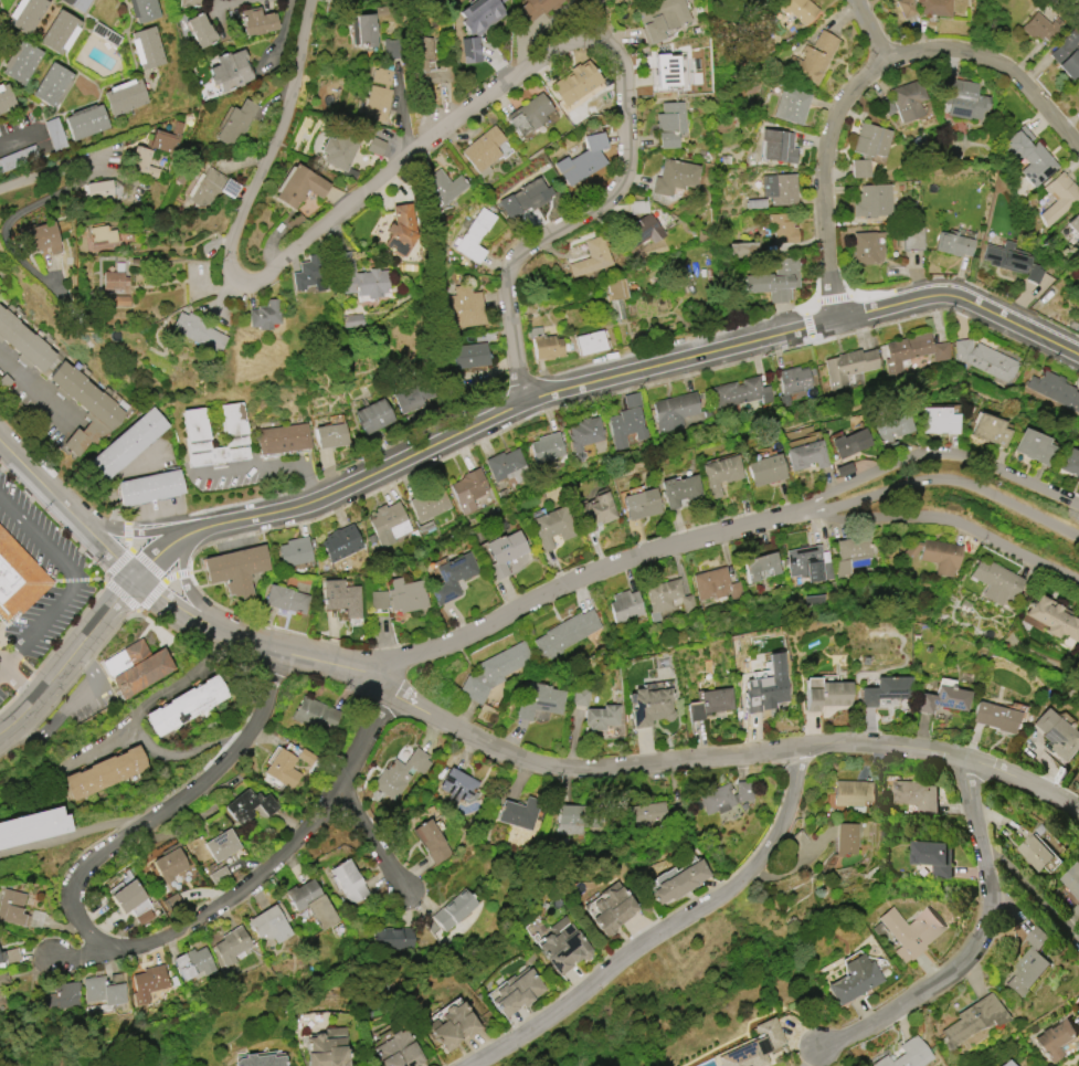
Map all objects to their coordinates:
building: (187, 2)
road: (230, 2)
building: (80, 4)
building: (535, 7)
building: (934, 7)
building: (907, 8)
building: (798, 9)
building: (144, 10)
building: (25, 14)
building: (660, 18)
building: (256, 21)
road: (601, 21)
building: (477, 25)
building: (1043, 28)
building: (199, 30)
building: (363, 30)
building: (60, 32)
building: (106, 34)
building: (147, 48)
building: (1067, 54)
building: (812, 59)
building: (21, 62)
building: (426, 64)
road: (999, 66)
building: (669, 70)
building: (229, 71)
building: (382, 75)
building: (574, 82)
building: (1078, 83)
building: (51, 84)
building: (125, 96)
building: (960, 97)
building: (6, 98)
building: (908, 99)
building: (377, 103)
building: (791, 105)
road: (464, 110)
building: (529, 114)
building: (86, 122)
building: (234, 123)
building: (669, 124)
building: (55, 134)
building: (168, 138)
road: (17, 141)
road: (825, 145)
building: (374, 146)
building: (777, 146)
building: (867, 147)
building: (483, 150)
building: (339, 152)
building: (1028, 156)
building: (18, 158)
building: (582, 159)
building: (140, 161)
road: (53, 169)
building: (674, 177)
building: (298, 186)
building: (444, 187)
building: (212, 188)
building: (780, 189)
building: (101, 190)
building: (1058, 197)
building: (526, 198)
building: (865, 201)
building: (755, 203)
road: (15, 213)
building: (1073, 223)
building: (782, 229)
building: (400, 230)
building: (639, 231)
building: (473, 235)
building: (911, 236)
building: (103, 238)
building: (41, 239)
building: (952, 244)
building: (866, 247)
building: (742, 250)
building: (591, 257)
building: (1012, 260)
building: (309, 274)
building: (359, 277)
building: (114, 281)
building: (775, 281)
building: (615, 289)
building: (462, 307)
building: (264, 315)
building: (197, 331)
building: (591, 341)
building: (23, 342)
building: (546, 345)
building: (911, 351)
building: (470, 356)
building: (984, 359)
building: (54, 363)
building: (849, 367)
road: (647, 369)
building: (793, 382)
building: (1055, 390)
road: (35, 391)
building: (741, 392)
building: (413, 397)
building: (84, 407)
building: (675, 411)
building: (372, 416)
building: (939, 421)
building: (627, 422)
building: (233, 429)
building: (991, 430)
building: (892, 431)
building: (584, 435)
building: (330, 436)
building: (283, 439)
building: (850, 443)
building: (126, 444)
building: (1034, 446)
building: (547, 447)
road: (935, 454)
building: (806, 455)
building: (1070, 462)
road: (272, 464)
building: (507, 466)
building: (765, 469)
building: (844, 469)
building: (720, 473)
road: (117, 475)
road: (940, 479)
building: (148, 487)
building: (468, 489)
building: (679, 489)
road: (59, 498)
building: (429, 504)
building: (641, 504)
building: (594, 511)
road: (943, 519)
building: (389, 523)
building: (552, 526)
road: (204, 530)
road: (152, 531)
building: (341, 542)
building: (295, 551)
building: (504, 551)
building: (937, 555)
building: (851, 556)
road: (161, 558)
building: (808, 563)
building: (760, 566)
building: (236, 569)
road: (128, 570)
road: (576, 574)
building: (453, 577)
building: (19, 579)
building: (996, 581)
road: (76, 582)
building: (716, 584)
road: (189, 587)
building: (406, 595)
building: (341, 597)
building: (669, 597)
building: (286, 599)
parking lot: (60, 600)
building: (378, 600)
building: (813, 601)
building: (625, 606)
building: (1051, 618)
building: (567, 633)
road: (71, 662)
building: (136, 667)
building: (495, 671)
road: (20, 677)
building: (766, 686)
building: (886, 690)
building: (825, 694)
building: (580, 696)
building: (944, 699)
building: (539, 701)
building: (650, 704)
building: (709, 704)
building: (186, 705)
building: (314, 713)
road: (136, 717)
building: (601, 717)
building: (995, 717)
road: (452, 729)
building: (1057, 733)
road: (945, 752)
building: (305, 757)
building: (283, 768)
building: (1078, 769)
building: (105, 772)
building: (399, 774)
building: (458, 785)
building: (851, 792)
building: (917, 795)
building: (724, 796)
building: (248, 805)
building: (519, 813)
building: (649, 813)
building: (570, 820)
building: (32, 826)
building: (846, 838)
building: (432, 842)
road: (373, 844)
building: (221, 845)
building: (1034, 852)
building: (933, 855)
building: (169, 864)
building: (218, 875)
building: (678, 880)
building: (349, 882)
building: (1069, 882)
road: (1027, 884)
building: (127, 896)
building: (311, 903)
building: (12, 907)
building: (454, 910)
building: (611, 910)
building: (1073, 914)
building: (268, 925)
road: (669, 929)
building: (907, 931)
building: (392, 938)
road: (105, 941)
building: (232, 944)
building: (563, 946)
road: (966, 949)
building: (1, 957)
building: (1029, 962)
building: (193, 963)
building: (854, 979)
building: (147, 982)
building: (3, 986)
building: (103, 991)
building: (517, 992)
building: (62, 995)
building: (972, 1018)
building: (453, 1025)
building: (1055, 1038)
building: (754, 1046)
building: (327, 1048)
building: (399, 1051)
building: (907, 1055)
road: (803, 1057)
building: (257, 1059)
building: (1006, 1064)

